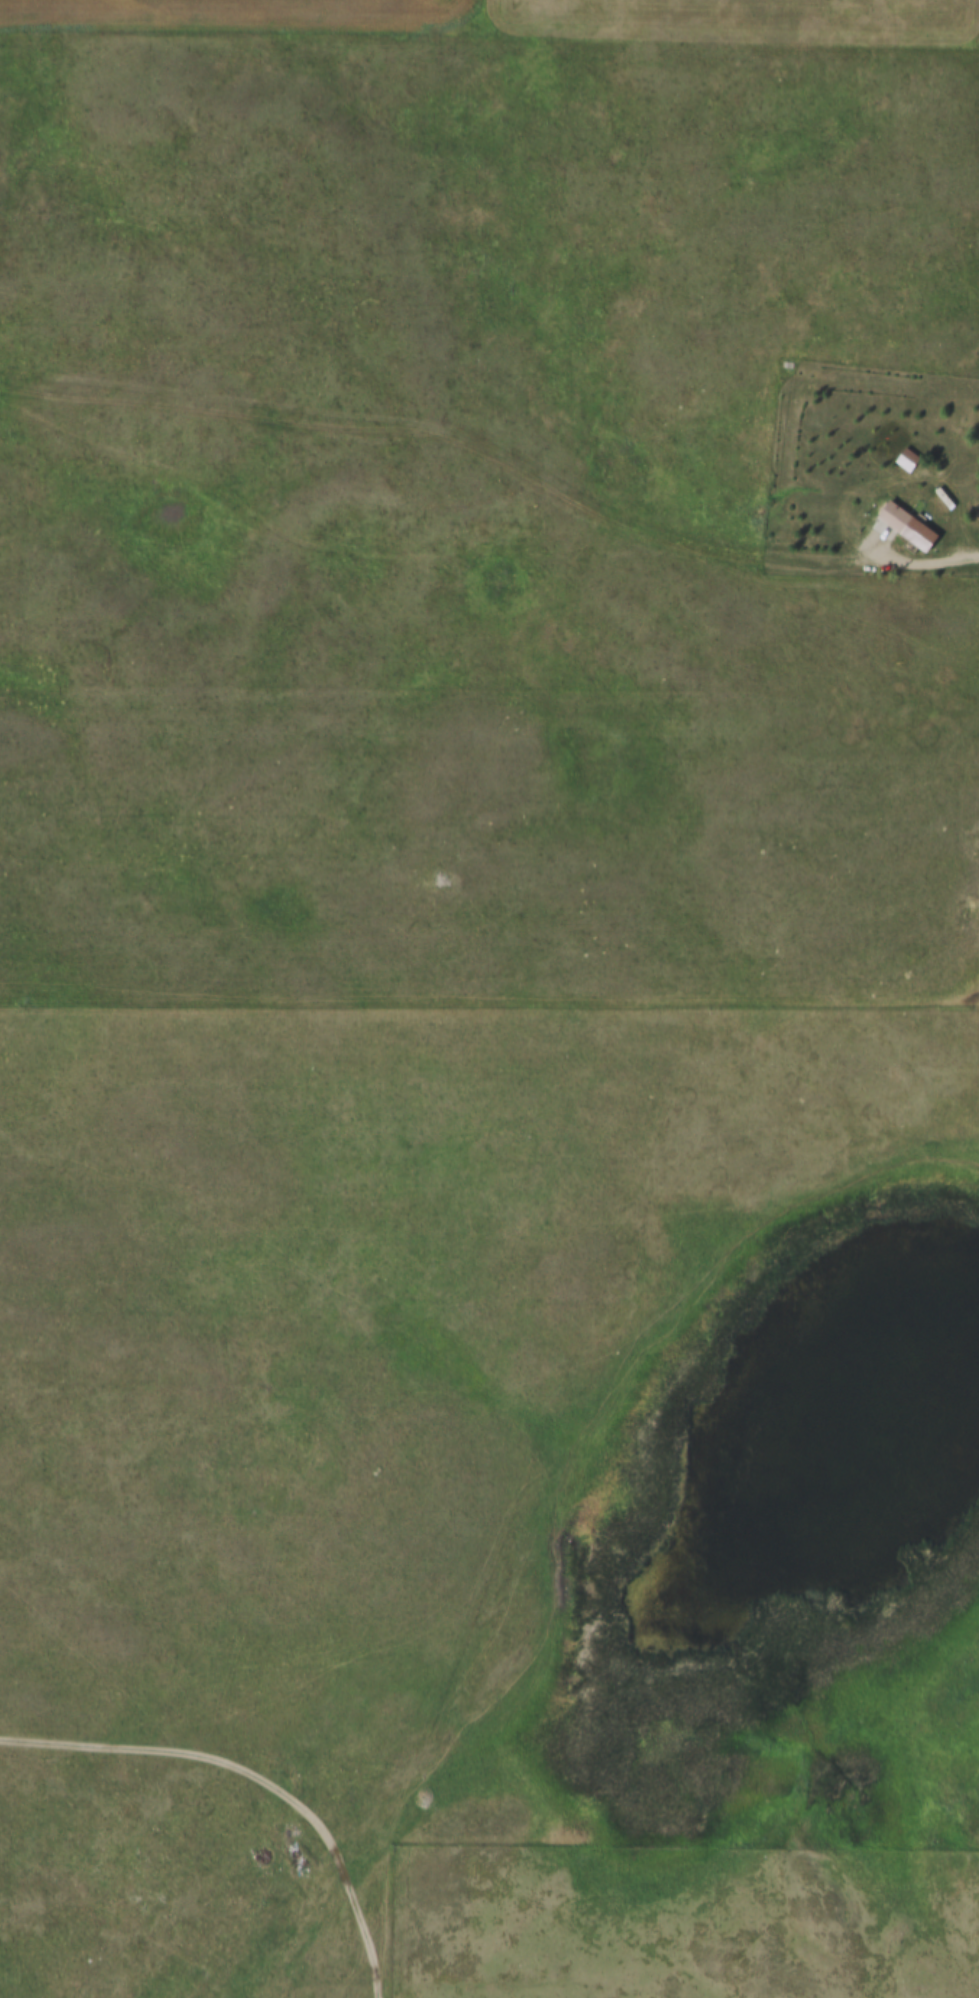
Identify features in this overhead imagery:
building: (908, 459)
building: (909, 526)
road: (924, 563)
road: (255, 1777)

